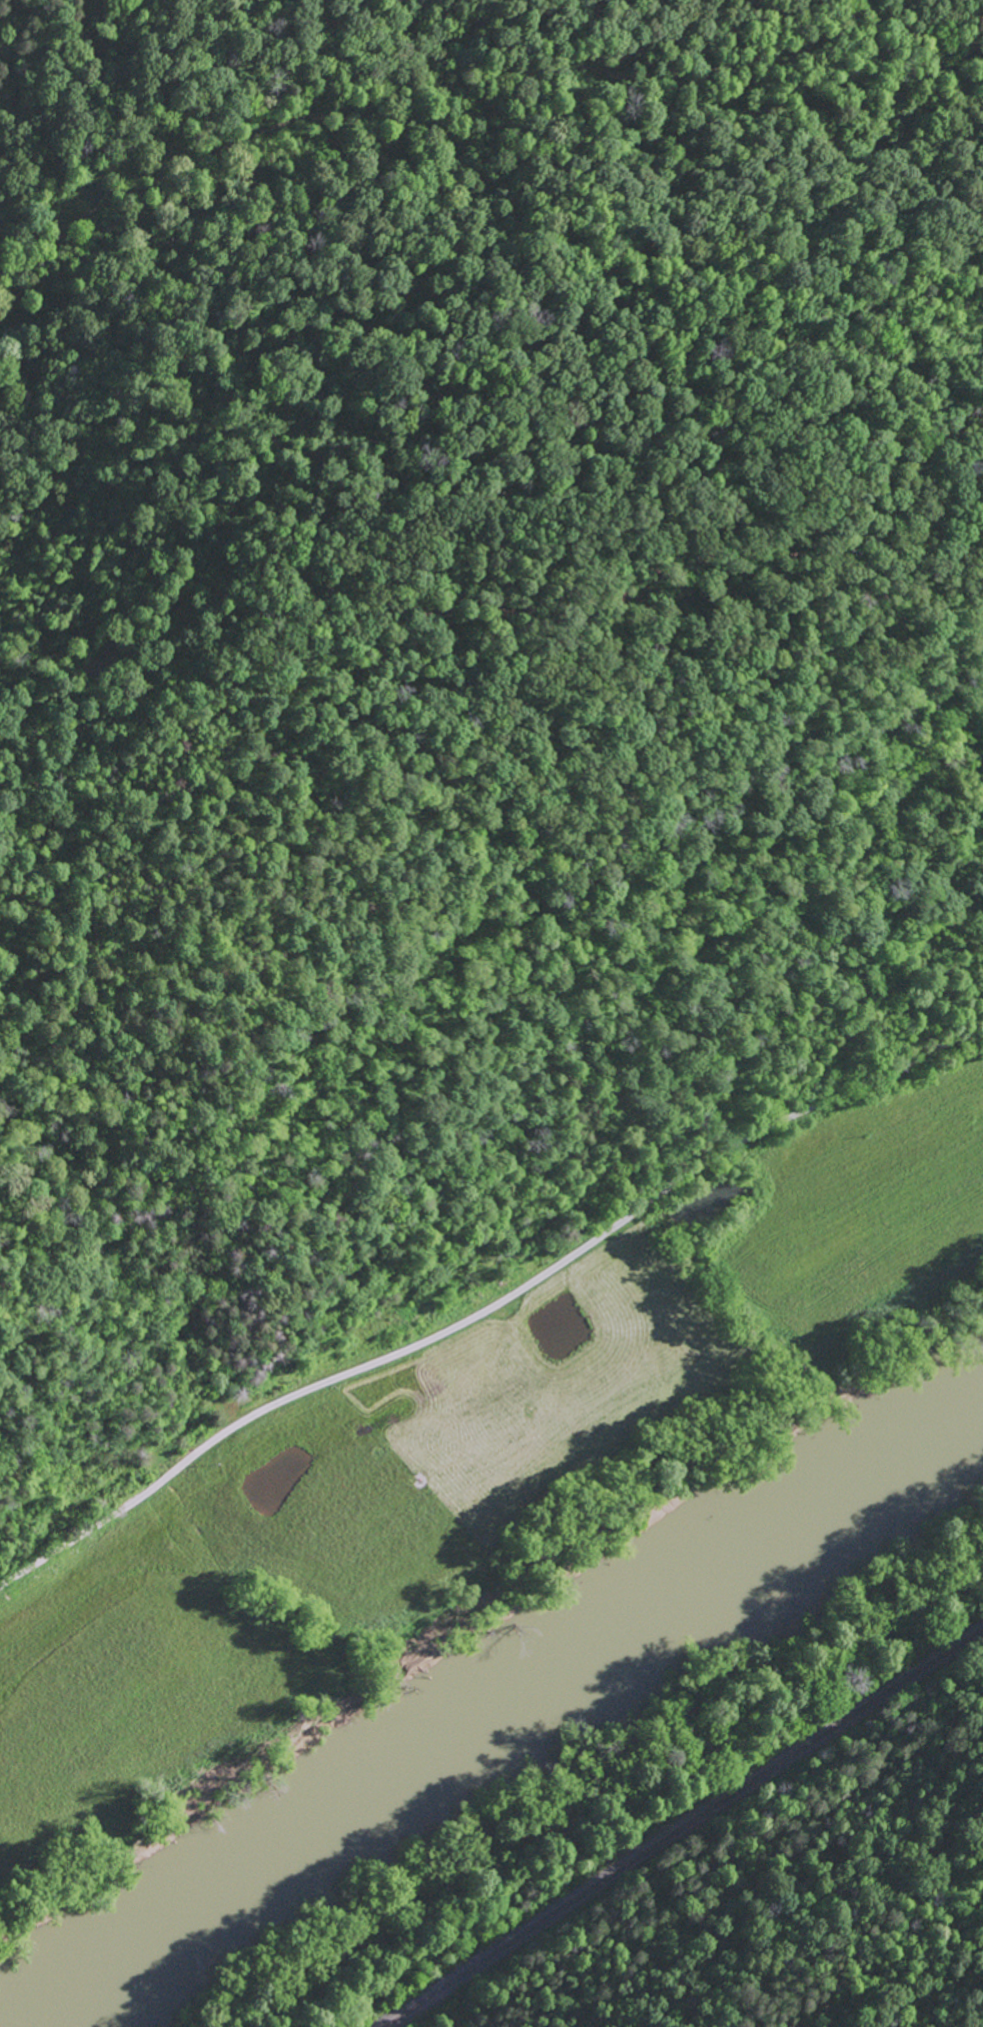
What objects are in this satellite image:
road: (469, 476)
road: (490, 1302)
river: (512, 1723)
railway: (678, 1827)

